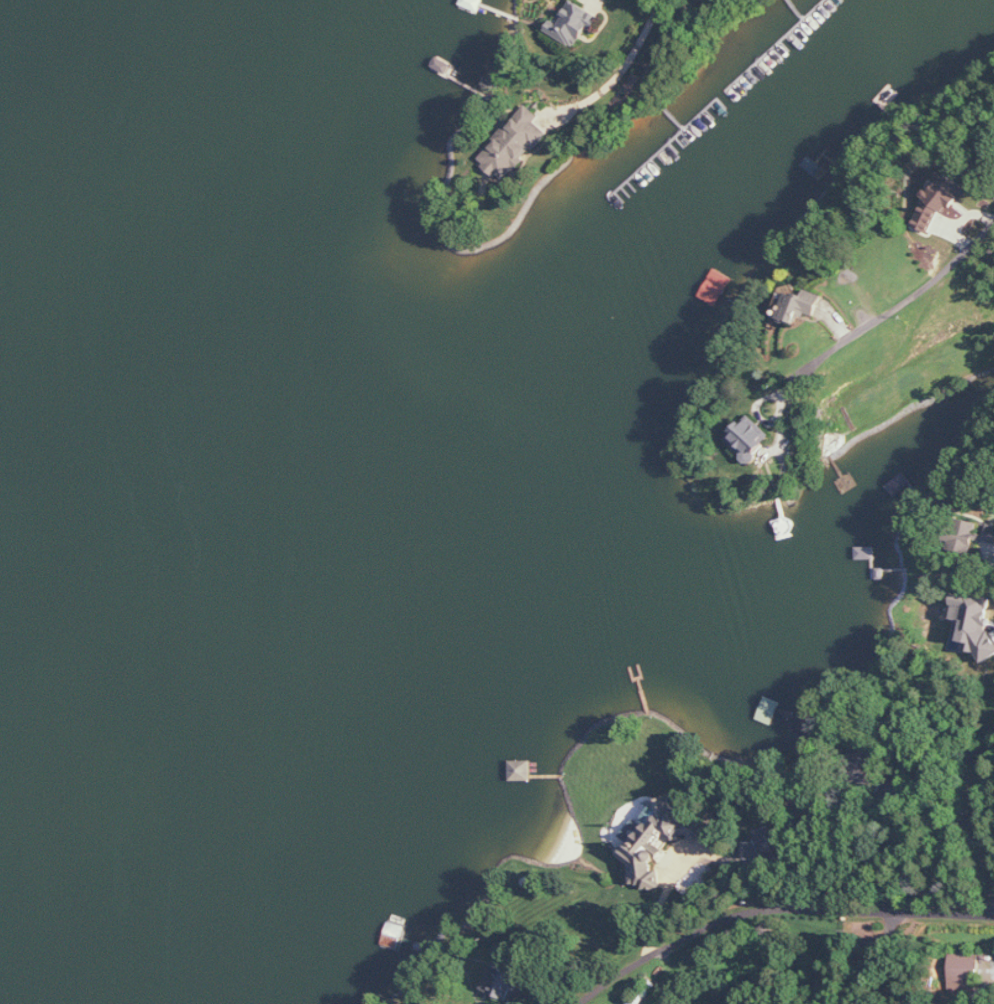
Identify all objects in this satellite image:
building: (575, 23)
road: (622, 68)
building: (514, 143)
building: (939, 200)
building: (716, 287)
road: (897, 300)
building: (800, 305)
building: (750, 438)
building: (975, 626)
building: (521, 771)
building: (663, 835)
road: (690, 843)
road: (929, 856)
road: (770, 912)
road: (873, 958)
building: (966, 972)
building: (501, 982)

